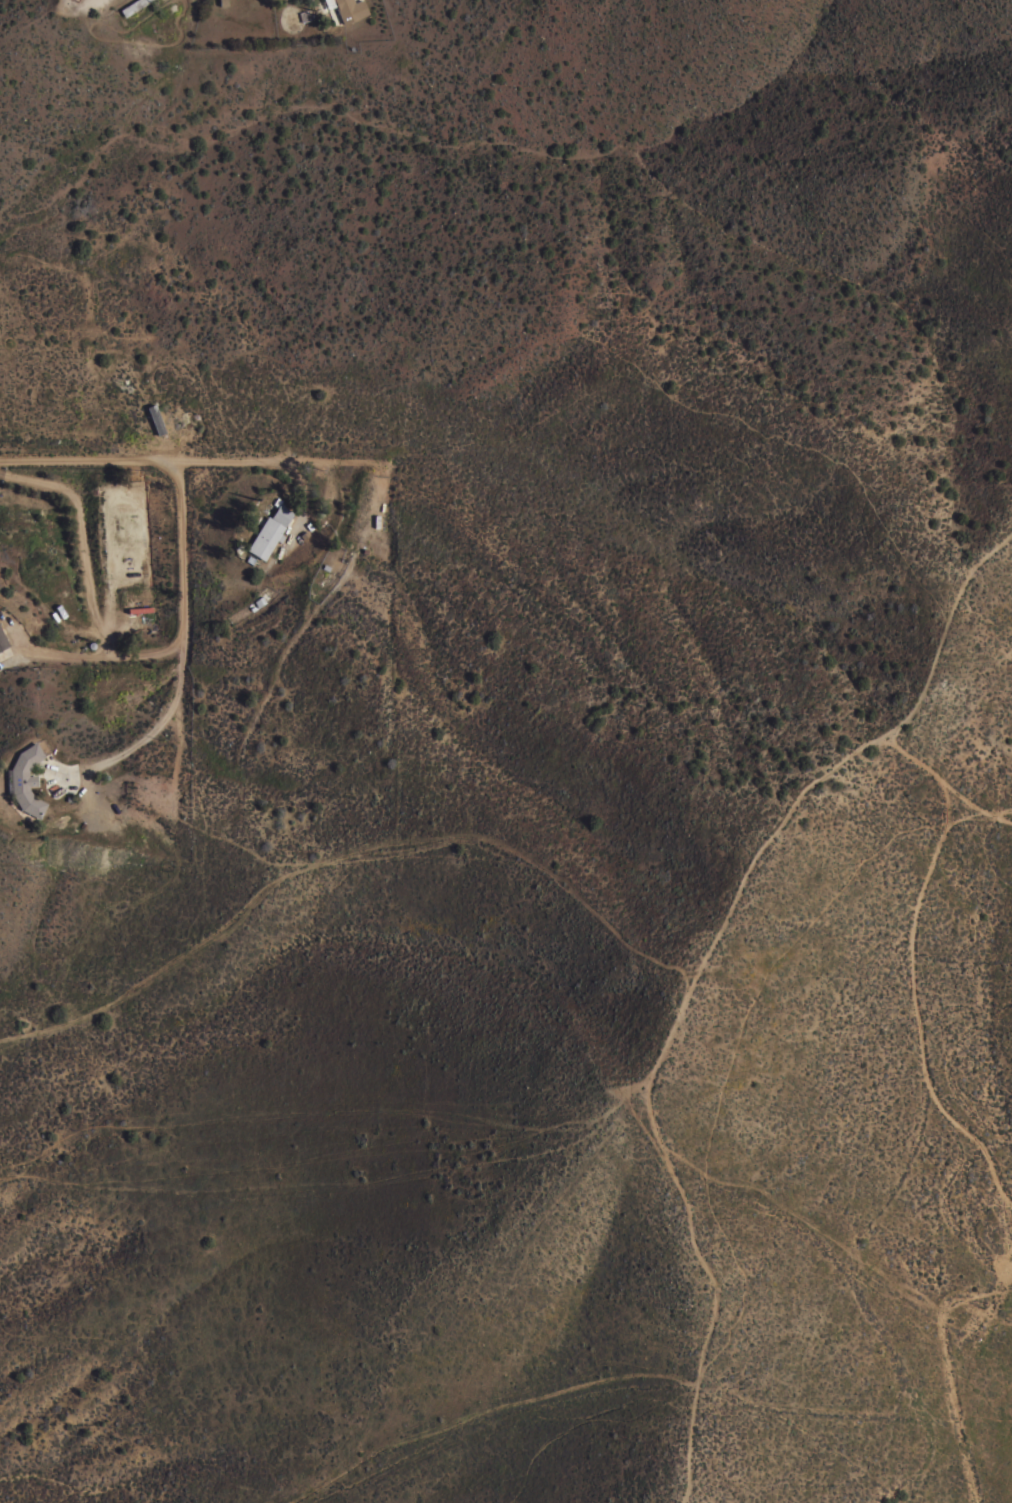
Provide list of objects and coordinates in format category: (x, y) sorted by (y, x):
building: (132, 6)
building: (347, 9)
building: (155, 420)
road: (89, 462)
road: (232, 463)
building: (269, 529)
road: (86, 574)
road: (182, 581)
building: (257, 603)
building: (2, 641)
road: (139, 742)
building: (25, 780)

